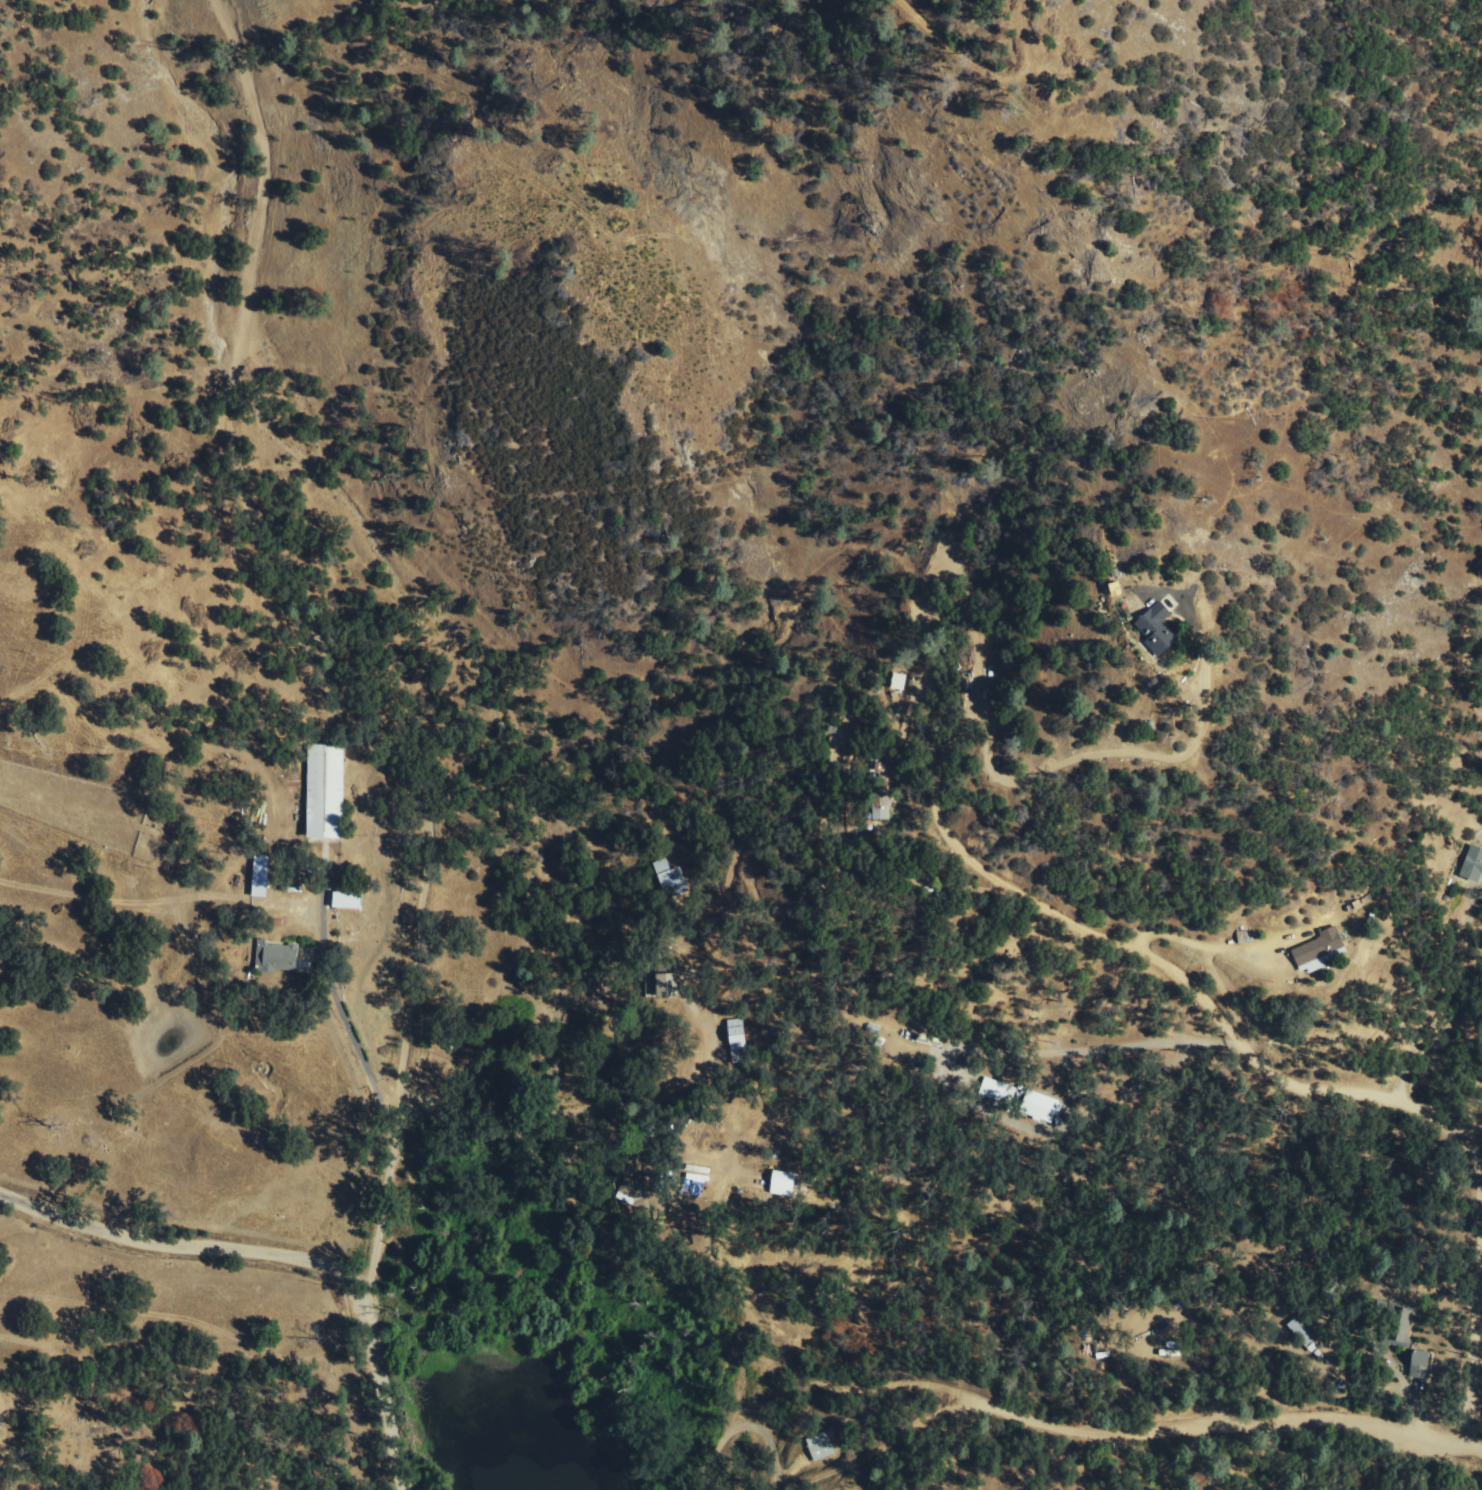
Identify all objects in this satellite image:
building: (1159, 629)
road: (307, 662)
building: (899, 681)
road: (1045, 769)
building: (327, 791)
building: (882, 805)
building: (1473, 865)
building: (671, 877)
building: (348, 900)
building: (1321, 951)
building: (277, 958)
building: (669, 985)
road: (1430, 998)
road: (1225, 1027)
building: (738, 1040)
building: (999, 1091)
road: (642, 1107)
building: (1041, 1107)
road: (472, 1111)
building: (784, 1183)
road: (197, 1248)
building: (1304, 1336)
building: (1401, 1337)
building: (1422, 1364)
road: (383, 1409)
road: (740, 1421)
road: (1097, 1441)
building: (822, 1447)
road: (870, 1455)

